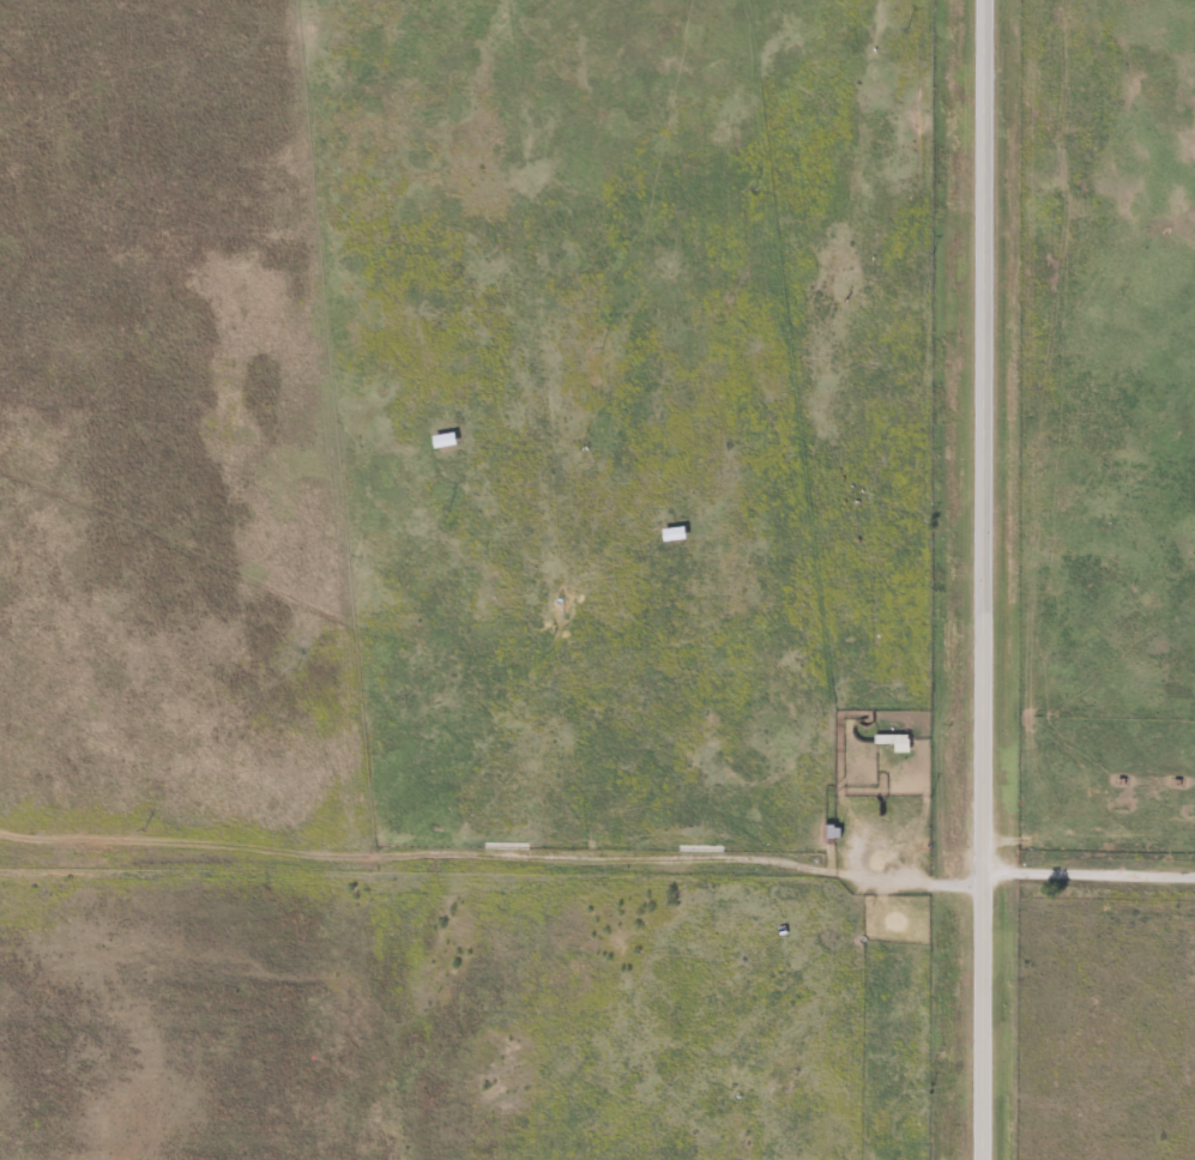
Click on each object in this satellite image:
building: (442, 440)
building: (671, 533)
road: (980, 580)
building: (893, 741)
road: (488, 889)

